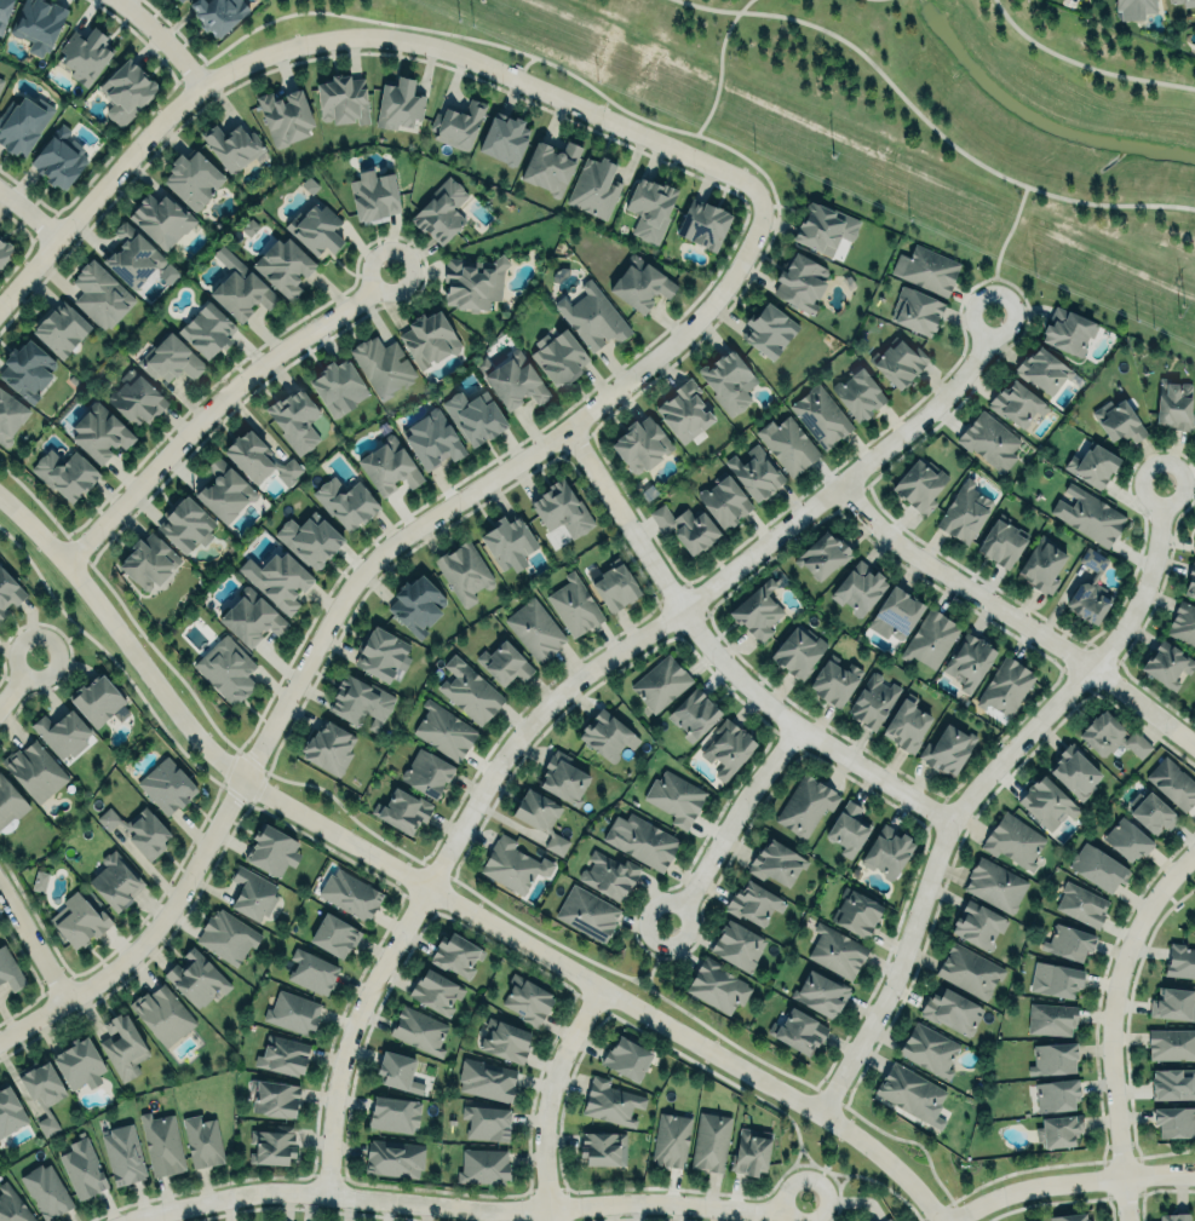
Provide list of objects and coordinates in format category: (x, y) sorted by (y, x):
building: (182, 0)
building: (1184, 2)
building: (1133, 8)
building: (4, 12)
building: (217, 15)
building: (36, 23)
road: (346, 35)
road: (162, 39)
building: (84, 54)
road: (1084, 65)
road: (719, 76)
building: (0, 81)
building: (125, 91)
building: (341, 99)
building: (397, 104)
building: (285, 115)
park: (930, 120)
road: (926, 121)
building: (22, 123)
building: (458, 123)
building: (504, 138)
building: (232, 146)
power tower: (831, 155)
building: (52, 160)
building: (548, 167)
building: (190, 177)
building: (593, 186)
building: (369, 195)
building: (648, 206)
building: (441, 211)
road: (28, 213)
building: (160, 219)
building: (701, 224)
building: (822, 228)
building: (315, 229)
road: (999, 248)
building: (4, 250)
building: (131, 257)
building: (283, 266)
building: (925, 269)
building: (472, 281)
building: (799, 282)
building: (640, 283)
building: (239, 287)
building: (99, 295)
building: (914, 311)
power tower: (1179, 311)
building: (592, 316)
building: (59, 328)
building: (768, 328)
building: (206, 329)
building: (1063, 329)
building: (427, 339)
building: (555, 353)
building: (168, 358)
building: (896, 361)
building: (381, 365)
building: (27, 369)
building: (1041, 372)
building: (513, 379)
building: (728, 381)
building: (338, 386)
building: (856, 393)
building: (134, 398)
building: (1016, 403)
building: (1173, 403)
road: (214, 404)
building: (683, 410)
building: (10, 416)
building: (820, 416)
building: (473, 417)
building: (294, 419)
building: (1118, 422)
building: (98, 432)
building: (431, 439)
building: (989, 440)
building: (640, 444)
building: (787, 444)
building: (247, 456)
building: (387, 466)
building: (1091, 466)
building: (64, 473)
building: (753, 473)
building: (918, 486)
building: (223, 490)
building: (722, 501)
building: (345, 502)
building: (561, 509)
building: (964, 512)
building: (1087, 514)
building: (185, 524)
building: (684, 526)
building: (309, 538)
building: (999, 543)
building: (509, 545)
building: (1194, 546)
building: (820, 555)
building: (146, 561)
building: (1040, 565)
building: (463, 571)
building: (280, 581)
building: (1190, 581)
road: (345, 587)
building: (613, 587)
building: (858, 588)
building: (7, 592)
building: (1088, 600)
building: (416, 604)
building: (573, 605)
building: (756, 611)
building: (894, 614)
building: (251, 617)
road: (1012, 620)
building: (1182, 622)
building: (534, 628)
building: (929, 638)
building: (798, 650)
building: (380, 655)
road: (718, 661)
building: (969, 662)
building: (502, 663)
building: (1166, 663)
building: (225, 669)
road: (17, 678)
building: (834, 679)
building: (659, 683)
building: (1005, 686)
road: (564, 687)
building: (469, 690)
building: (97, 697)
building: (872, 699)
building: (358, 701)
building: (693, 713)
building: (906, 724)
building: (56, 730)
building: (443, 731)
building: (1110, 732)
building: (605, 736)
building: (725, 747)
building: (327, 748)
building: (947, 750)
building: (1073, 766)
building: (34, 770)
building: (426, 774)
building: (563, 776)
building: (1172, 779)
building: (166, 783)
road: (973, 785)
building: (674, 796)
building: (10, 800)
building: (1046, 802)
building: (805, 805)
building: (1151, 808)
building: (402, 811)
building: (540, 814)
road: (725, 823)
building: (138, 827)
building: (846, 829)
building: (1126, 835)
building: (1013, 837)
building: (643, 840)
building: (272, 847)
building: (886, 849)
building: (776, 863)
building: (512, 864)
building: (1098, 866)
building: (607, 874)
building: (39, 880)
building: (115, 880)
building: (994, 885)
building: (253, 891)
building: (349, 892)
road: (437, 895)
building: (753, 900)
building: (1081, 904)
building: (855, 910)
building: (587, 911)
building: (77, 918)
building: (978, 922)
building: (333, 931)
building: (226, 934)
building: (1067, 939)
road: (31, 943)
building: (736, 943)
building: (835, 950)
building: (455, 954)
building: (1179, 960)
road: (653, 967)
building: (10, 968)
building: (311, 968)
building: (969, 971)
building: (196, 975)
building: (1055, 977)
building: (717, 986)
building: (436, 989)
building: (821, 991)
building: (524, 996)
building: (1173, 1002)
building: (292, 1009)
building: (952, 1010)
building: (161, 1013)
building: (1051, 1016)
road: (1108, 1023)
building: (418, 1027)
building: (798, 1027)
building: (505, 1038)
building: (122, 1044)
building: (1171, 1044)
building: (929, 1048)
building: (282, 1055)
building: (626, 1055)
building: (1053, 1056)
building: (79, 1060)
building: (401, 1067)
building: (486, 1078)
building: (1172, 1083)
building: (42, 1085)
building: (909, 1089)
building: (1056, 1093)
building: (275, 1095)
road: (546, 1099)
building: (610, 1100)
building: (8, 1108)
building: (392, 1110)
building: (1174, 1119)
building: (486, 1122)
building: (47, 1124)
building: (1057, 1128)
building: (671, 1139)
building: (202, 1140)
building: (708, 1141)
building: (161, 1142)
building: (272, 1144)
building: (594, 1146)
building: (749, 1151)
building: (121, 1152)
building: (393, 1157)
building: (483, 1162)
road: (821, 1167)
building: (81, 1168)
road: (1069, 1180)
road: (814, 1183)
building: (44, 1188)
building: (11, 1205)
road: (463, 1209)
building: (1069, 1215)
building: (1171, 1215)
building: (886, 1219)
building: (873, 1220)

